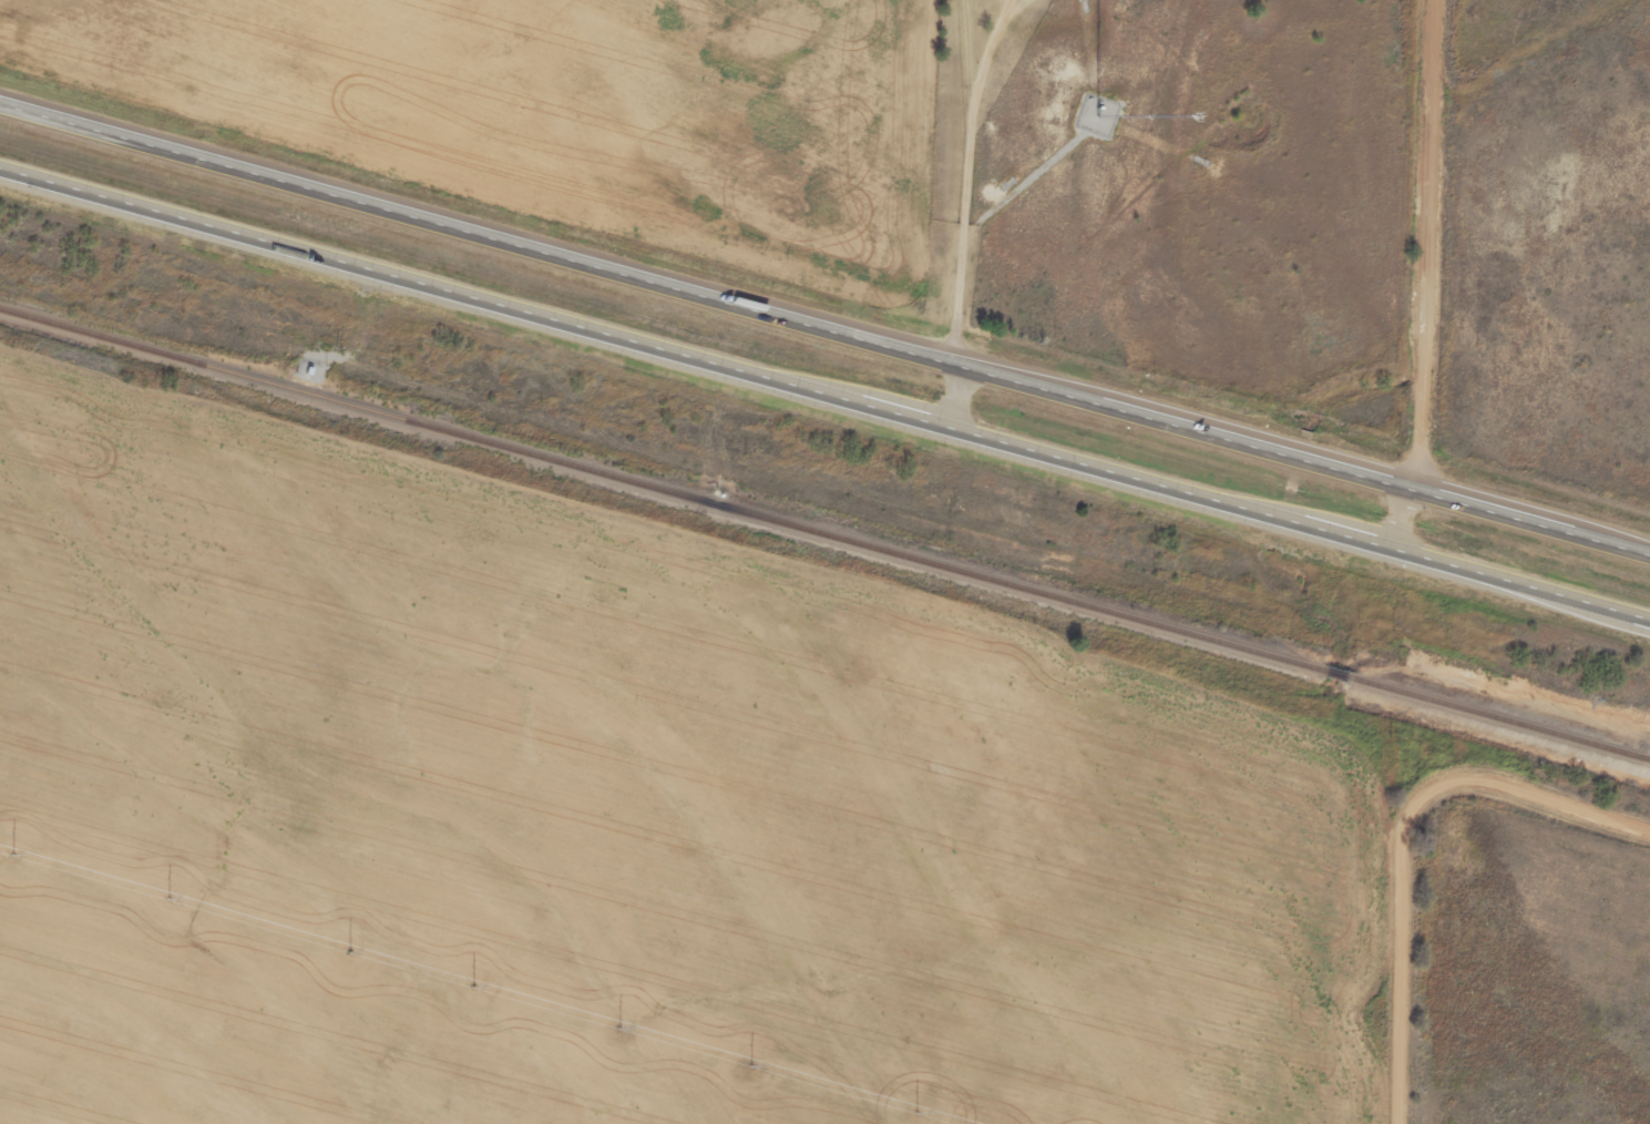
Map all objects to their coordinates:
road: (965, 212)
road: (1432, 239)
road: (826, 317)
road: (824, 391)
road: (1408, 513)
railway: (824, 532)
road: (1410, 841)

